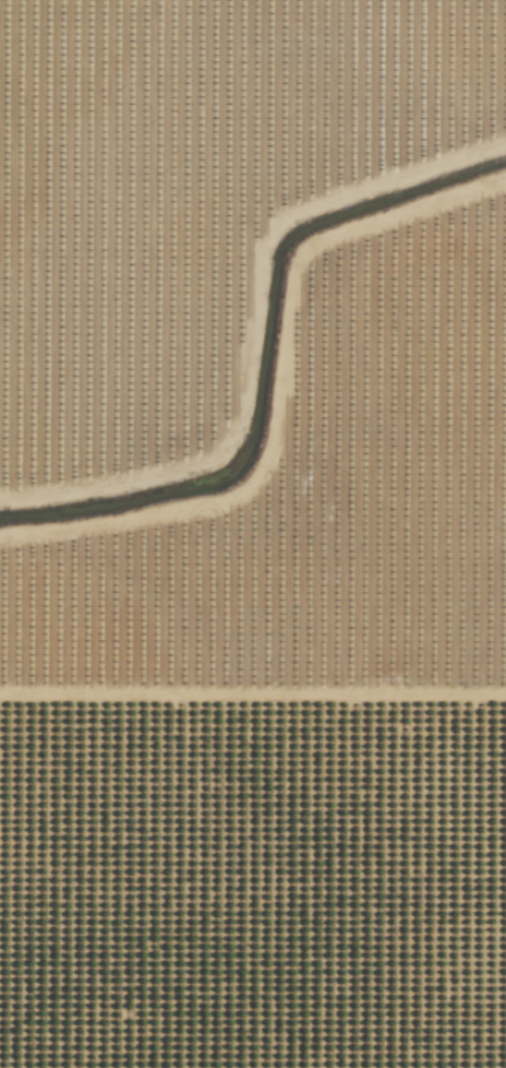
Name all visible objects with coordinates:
road: (253, 696)

